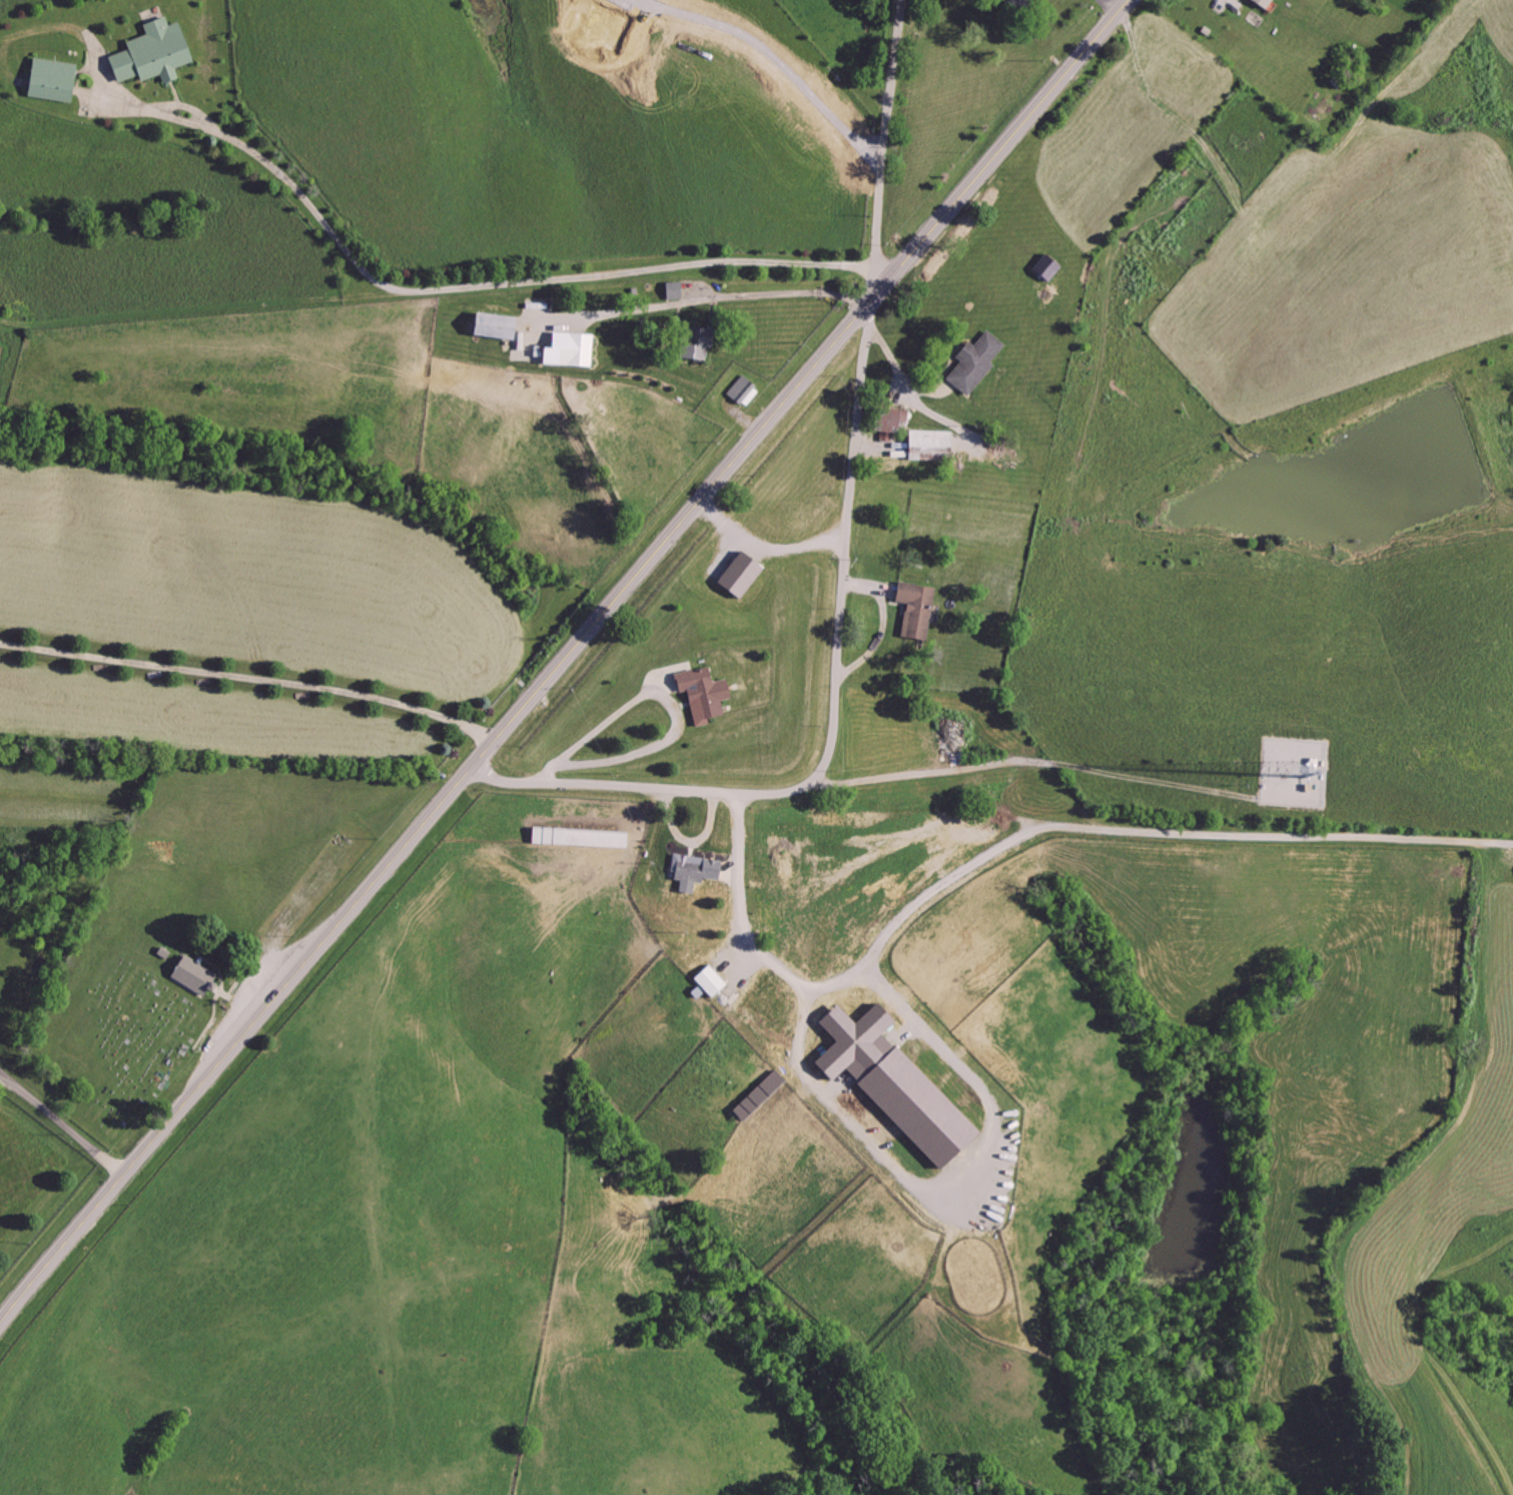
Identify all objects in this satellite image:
building: (1260, 4)
building: (1017, 6)
building: (151, 53)
building: (49, 79)
road: (884, 148)
building: (1044, 267)
road: (477, 284)
building: (672, 290)
road: (703, 290)
building: (490, 325)
building: (690, 343)
building: (563, 350)
building: (973, 362)
road: (907, 384)
building: (743, 391)
building: (888, 422)
building: (929, 444)
road: (766, 546)
building: (738, 575)
building: (914, 609)
road: (562, 662)
road: (252, 676)
building: (701, 694)
road: (663, 695)
road: (832, 711)
road: (1103, 830)
building: (577, 838)
building: (693, 871)
road: (856, 973)
building: (192, 975)
building: (708, 981)
park: (121, 1042)
building: (891, 1083)
building: (758, 1096)
road: (63, 1122)

